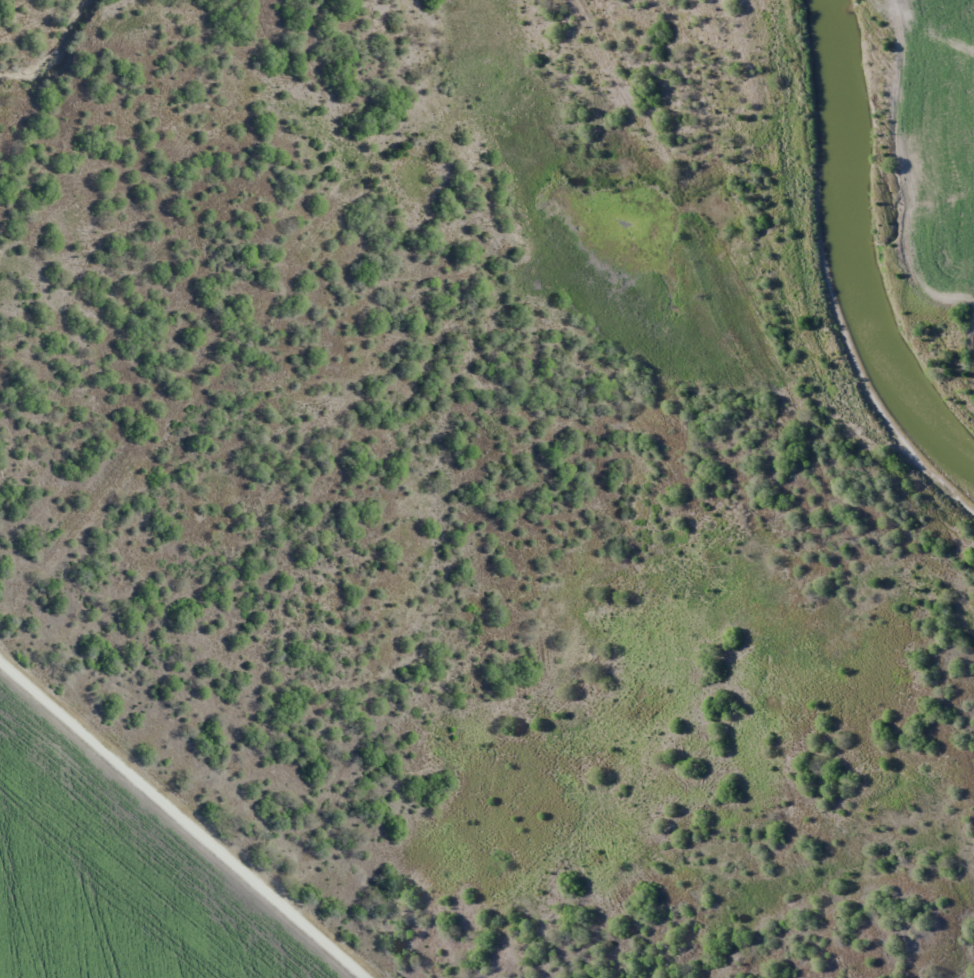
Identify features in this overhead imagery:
road: (172, 826)

